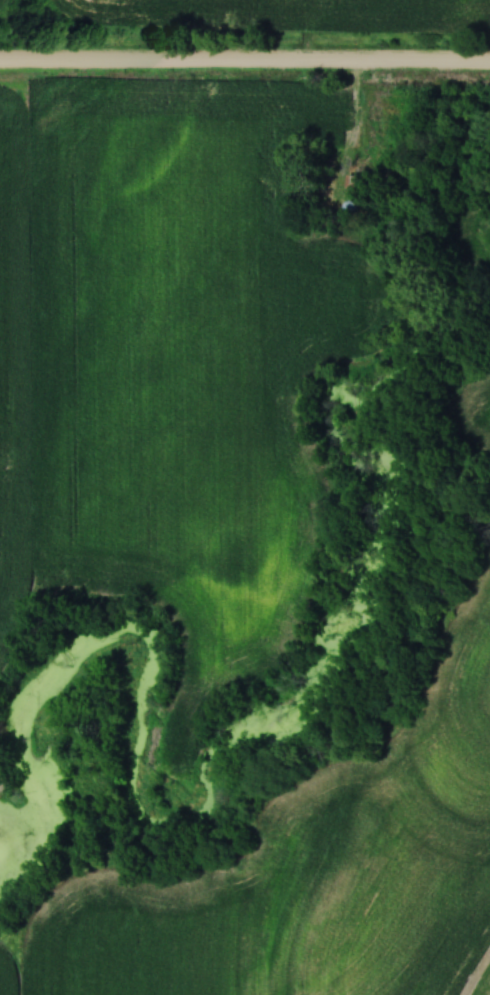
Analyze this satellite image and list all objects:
road: (245, 60)

